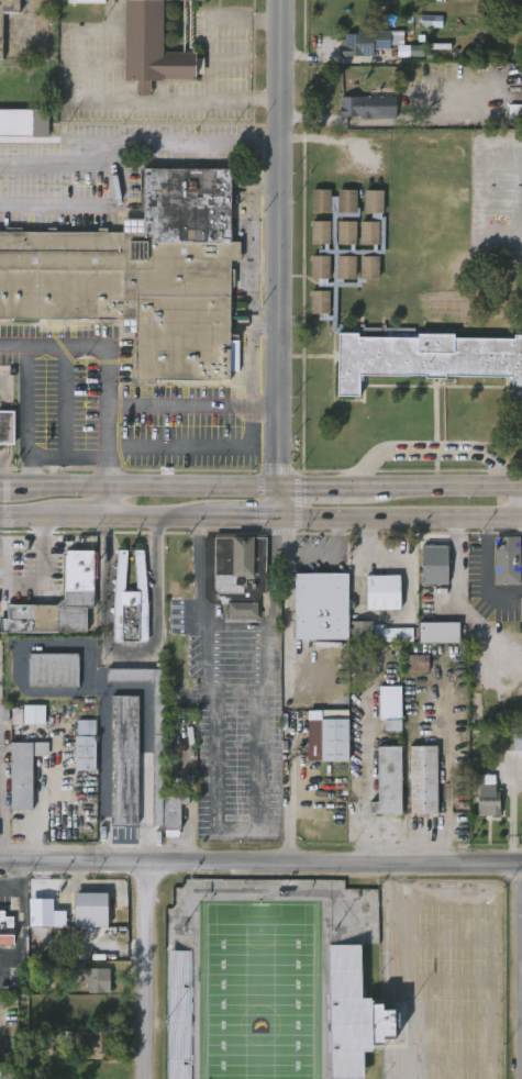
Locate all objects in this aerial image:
building: (86, 1)
building: (431, 21)
road: (230, 34)
building: (1, 35)
building: (369, 42)
building: (155, 46)
building: (412, 51)
road: (119, 104)
building: (355, 108)
building: (25, 123)
road: (138, 143)
road: (268, 181)
road: (85, 201)
building: (321, 201)
building: (347, 201)
building: (374, 201)
building: (321, 232)
building: (347, 233)
building: (369, 233)
road: (286, 243)
building: (320, 267)
building: (346, 267)
building: (369, 268)
road: (251, 275)
building: (142, 277)
building: (320, 302)
road: (268, 318)
building: (427, 359)
road: (103, 377)
road: (65, 400)
road: (193, 405)
building: (7, 426)
road: (25, 438)
building: (508, 441)
road: (196, 446)
road: (142, 487)
traffic signals: (285, 487)
road: (321, 487)
road: (440, 487)
road: (285, 501)
road: (31, 514)
road: (84, 514)
road: (157, 514)
road: (248, 515)
traffic signals: (285, 515)
road: (403, 515)
road: (470, 542)
road: (327, 555)
building: (506, 559)
road: (456, 560)
building: (240, 561)
building: (434, 564)
road: (485, 571)
road: (44, 577)
building: (384, 591)
building: (58, 600)
building: (130, 601)
building: (325, 608)
building: (520, 609)
building: (243, 610)
building: (436, 632)
building: (393, 635)
road: (130, 649)
building: (418, 664)
building: (53, 669)
road: (73, 690)
building: (388, 708)
building: (34, 714)
building: (324, 736)
building: (517, 742)
building: (85, 746)
building: (155, 748)
road: (146, 754)
building: (121, 760)
building: (23, 771)
building: (423, 779)
building: (389, 781)
building: (485, 794)
road: (1, 796)
road: (289, 801)
road: (238, 831)
road: (260, 863)
road: (14, 880)
building: (90, 910)
building: (5, 928)
road: (2, 967)
road: (151, 969)
building: (93, 978)
park: (332, 980)
park: (263, 992)
building: (353, 1014)
building: (0, 1030)
building: (86, 1039)
building: (9, 1070)

